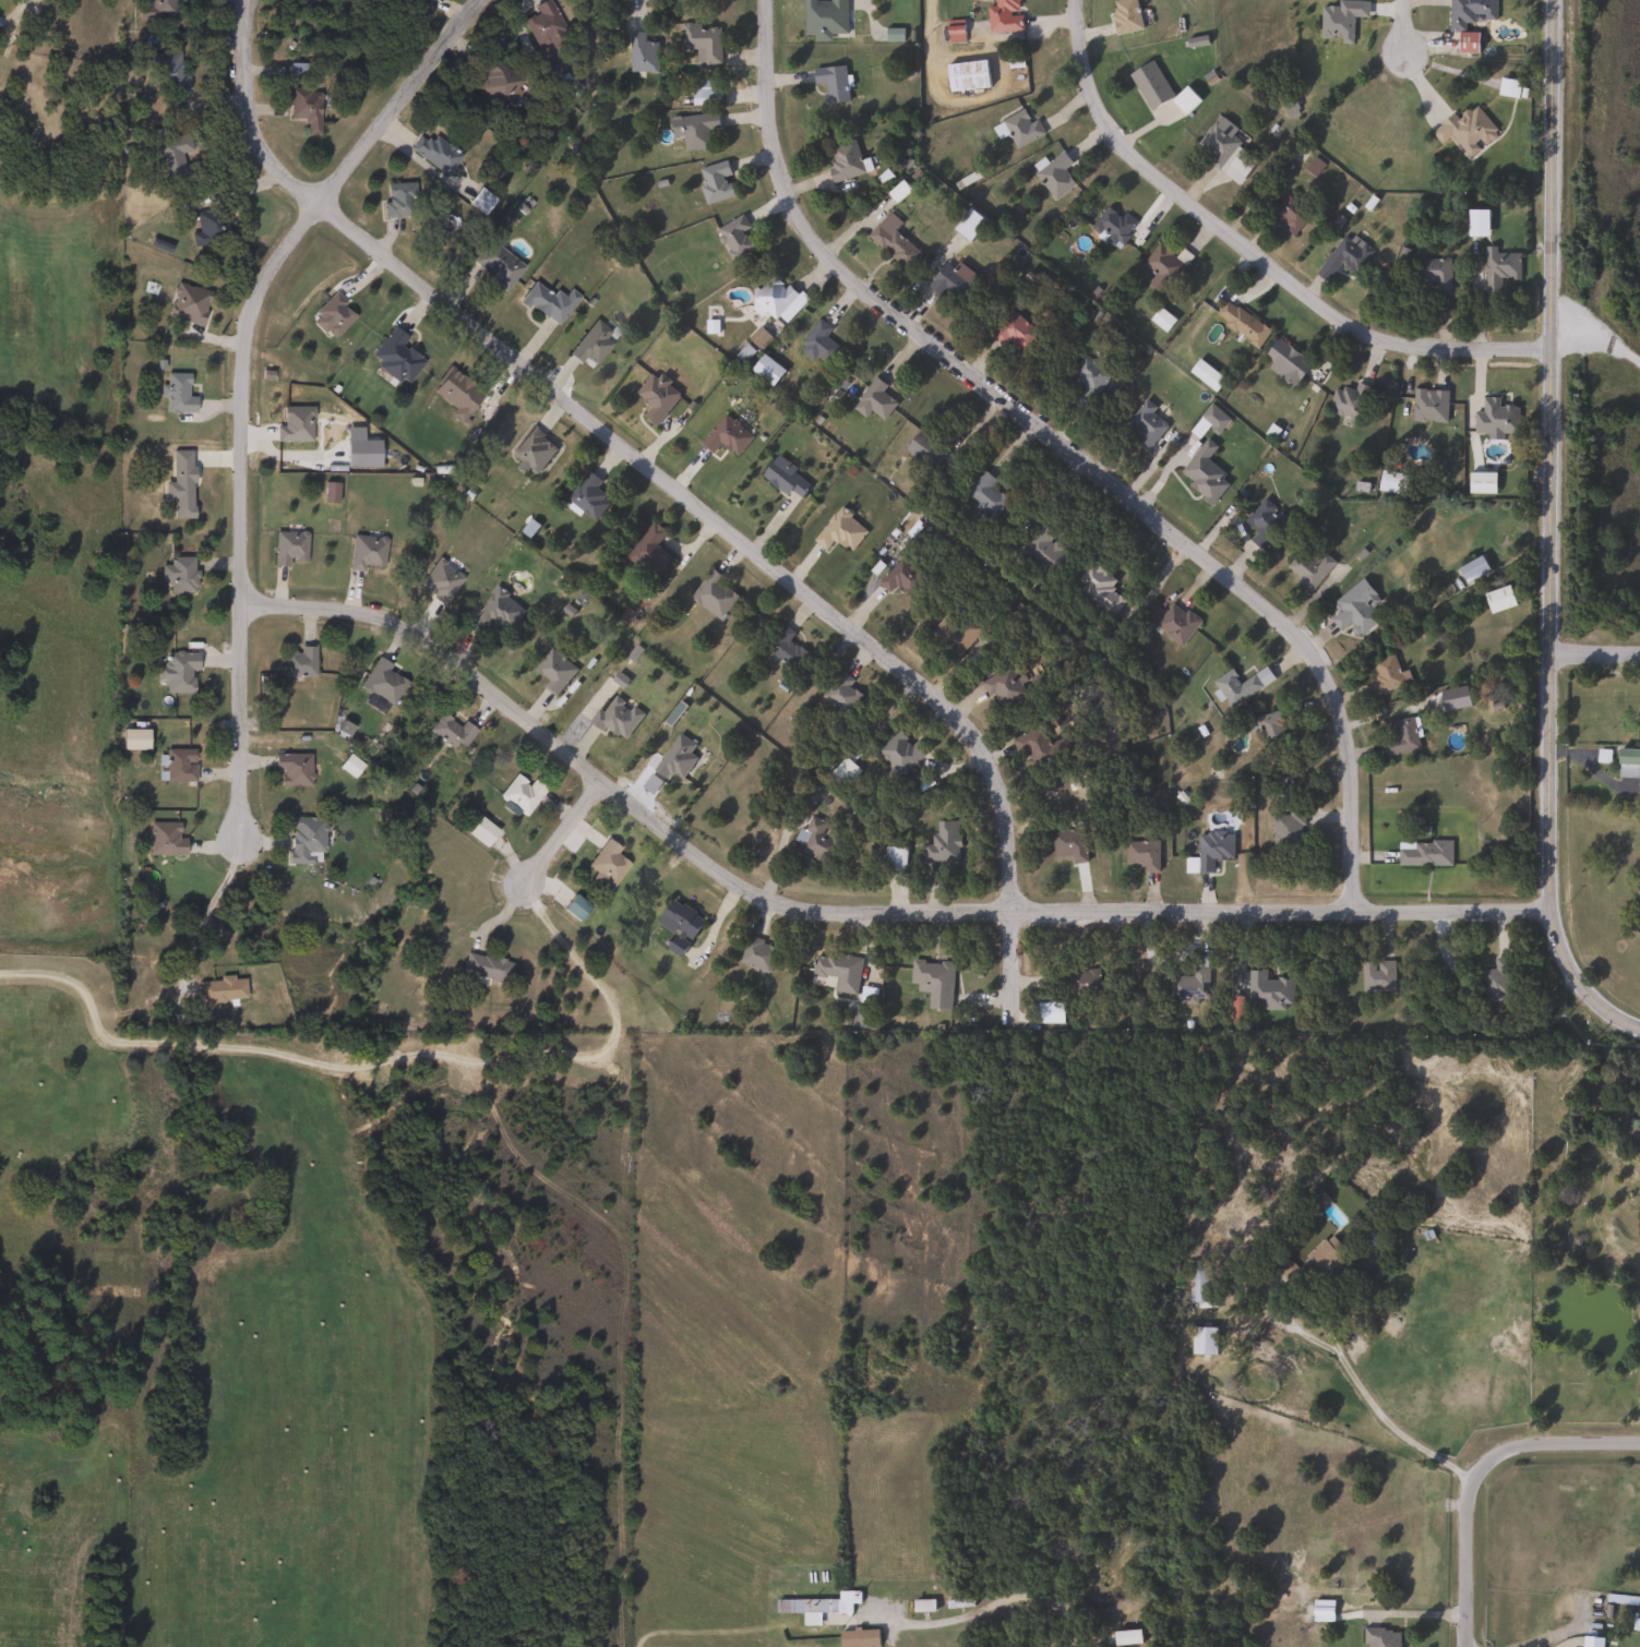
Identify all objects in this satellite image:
building: (415, 1)
building: (163, 8)
building: (1003, 15)
building: (1124, 15)
building: (823, 17)
building: (1340, 19)
building: (1468, 20)
building: (542, 25)
road: (1401, 26)
building: (702, 40)
building: (642, 52)
building: (166, 71)
building: (966, 75)
building: (830, 82)
building: (495, 85)
building: (703, 87)
building: (1158, 87)
building: (1507, 87)
building: (303, 108)
road: (248, 116)
building: (1018, 127)
building: (693, 129)
building: (1465, 129)
building: (1225, 149)
building: (170, 151)
building: (433, 153)
building: (842, 159)
building: (1055, 175)
building: (714, 181)
building: (397, 200)
building: (1291, 215)
building: (1476, 223)
building: (968, 224)
building: (1112, 226)
building: (203, 228)
building: (735, 236)
building: (891, 241)
road: (1253, 254)
building: (1343, 256)
building: (493, 262)
building: (1162, 267)
building: (1499, 268)
building: (1433, 275)
building: (949, 280)
building: (773, 296)
building: (547, 302)
building: (187, 303)
building: (333, 314)
building: (1241, 323)
building: (1013, 332)
road: (1599, 335)
building: (589, 342)
building: (817, 342)
building: (394, 357)
building: (1284, 361)
building: (1206, 375)
building: (1088, 380)
road: (240, 382)
building: (176, 394)
building: (454, 395)
building: (656, 396)
building: (873, 400)
building: (1349, 400)
building: (1428, 404)
building: (1495, 417)
building: (1213, 418)
building: (1146, 424)
building: (727, 435)
building: (925, 446)
road: (1067, 450)
building: (1204, 472)
building: (785, 477)
building: (1391, 481)
building: (984, 493)
building: (587, 496)
building: (1265, 522)
building: (840, 530)
road: (1552, 533)
building: (289, 548)
building: (1043, 550)
building: (648, 551)
road: (763, 560)
building: (1308, 565)
building: (1471, 568)
building: (178, 574)
building: (901, 577)
building: (1097, 588)
building: (714, 594)
building: (1498, 598)
building: (1354, 609)
building: (496, 611)
building: (1176, 623)
building: (955, 634)
building: (785, 647)
road: (1595, 651)
building: (298, 662)
building: (177, 671)
building: (553, 671)
building: (1382, 675)
building: (379, 683)
building: (1235, 686)
building: (1003, 689)
building: (840, 693)
building: (615, 718)
building: (1272, 730)
building: (447, 733)
building: (1400, 737)
building: (898, 752)
building: (1602, 756)
building: (674, 758)
building: (1627, 762)
building: (179, 766)
building: (291, 770)
road: (1594, 772)
building: (519, 794)
building: (1286, 829)
building: (477, 832)
road: (560, 833)
building: (166, 839)
building: (304, 839)
building: (815, 841)
building: (943, 842)
building: (1068, 844)
building: (1212, 849)
building: (1424, 853)
building: (1141, 854)
building: (893, 859)
building: (604, 863)
road: (206, 904)
road: (847, 912)
building: (678, 925)
building: (757, 954)
building: (482, 969)
building: (837, 970)
building: (1377, 976)
building: (1495, 978)
building: (1073, 979)
building: (932, 981)
building: (1188, 982)
building: (1268, 991)
building: (1049, 1013)
road: (384, 1059)
building: (1324, 1255)
building: (1198, 1282)
building: (1202, 1341)
road: (1341, 1358)
road: (1474, 1475)
building: (958, 1602)
building: (813, 1607)
road: (994, 1610)
building: (1135, 1612)
building: (1380, 1637)
building: (858, 1638)
building: (1591, 1638)

